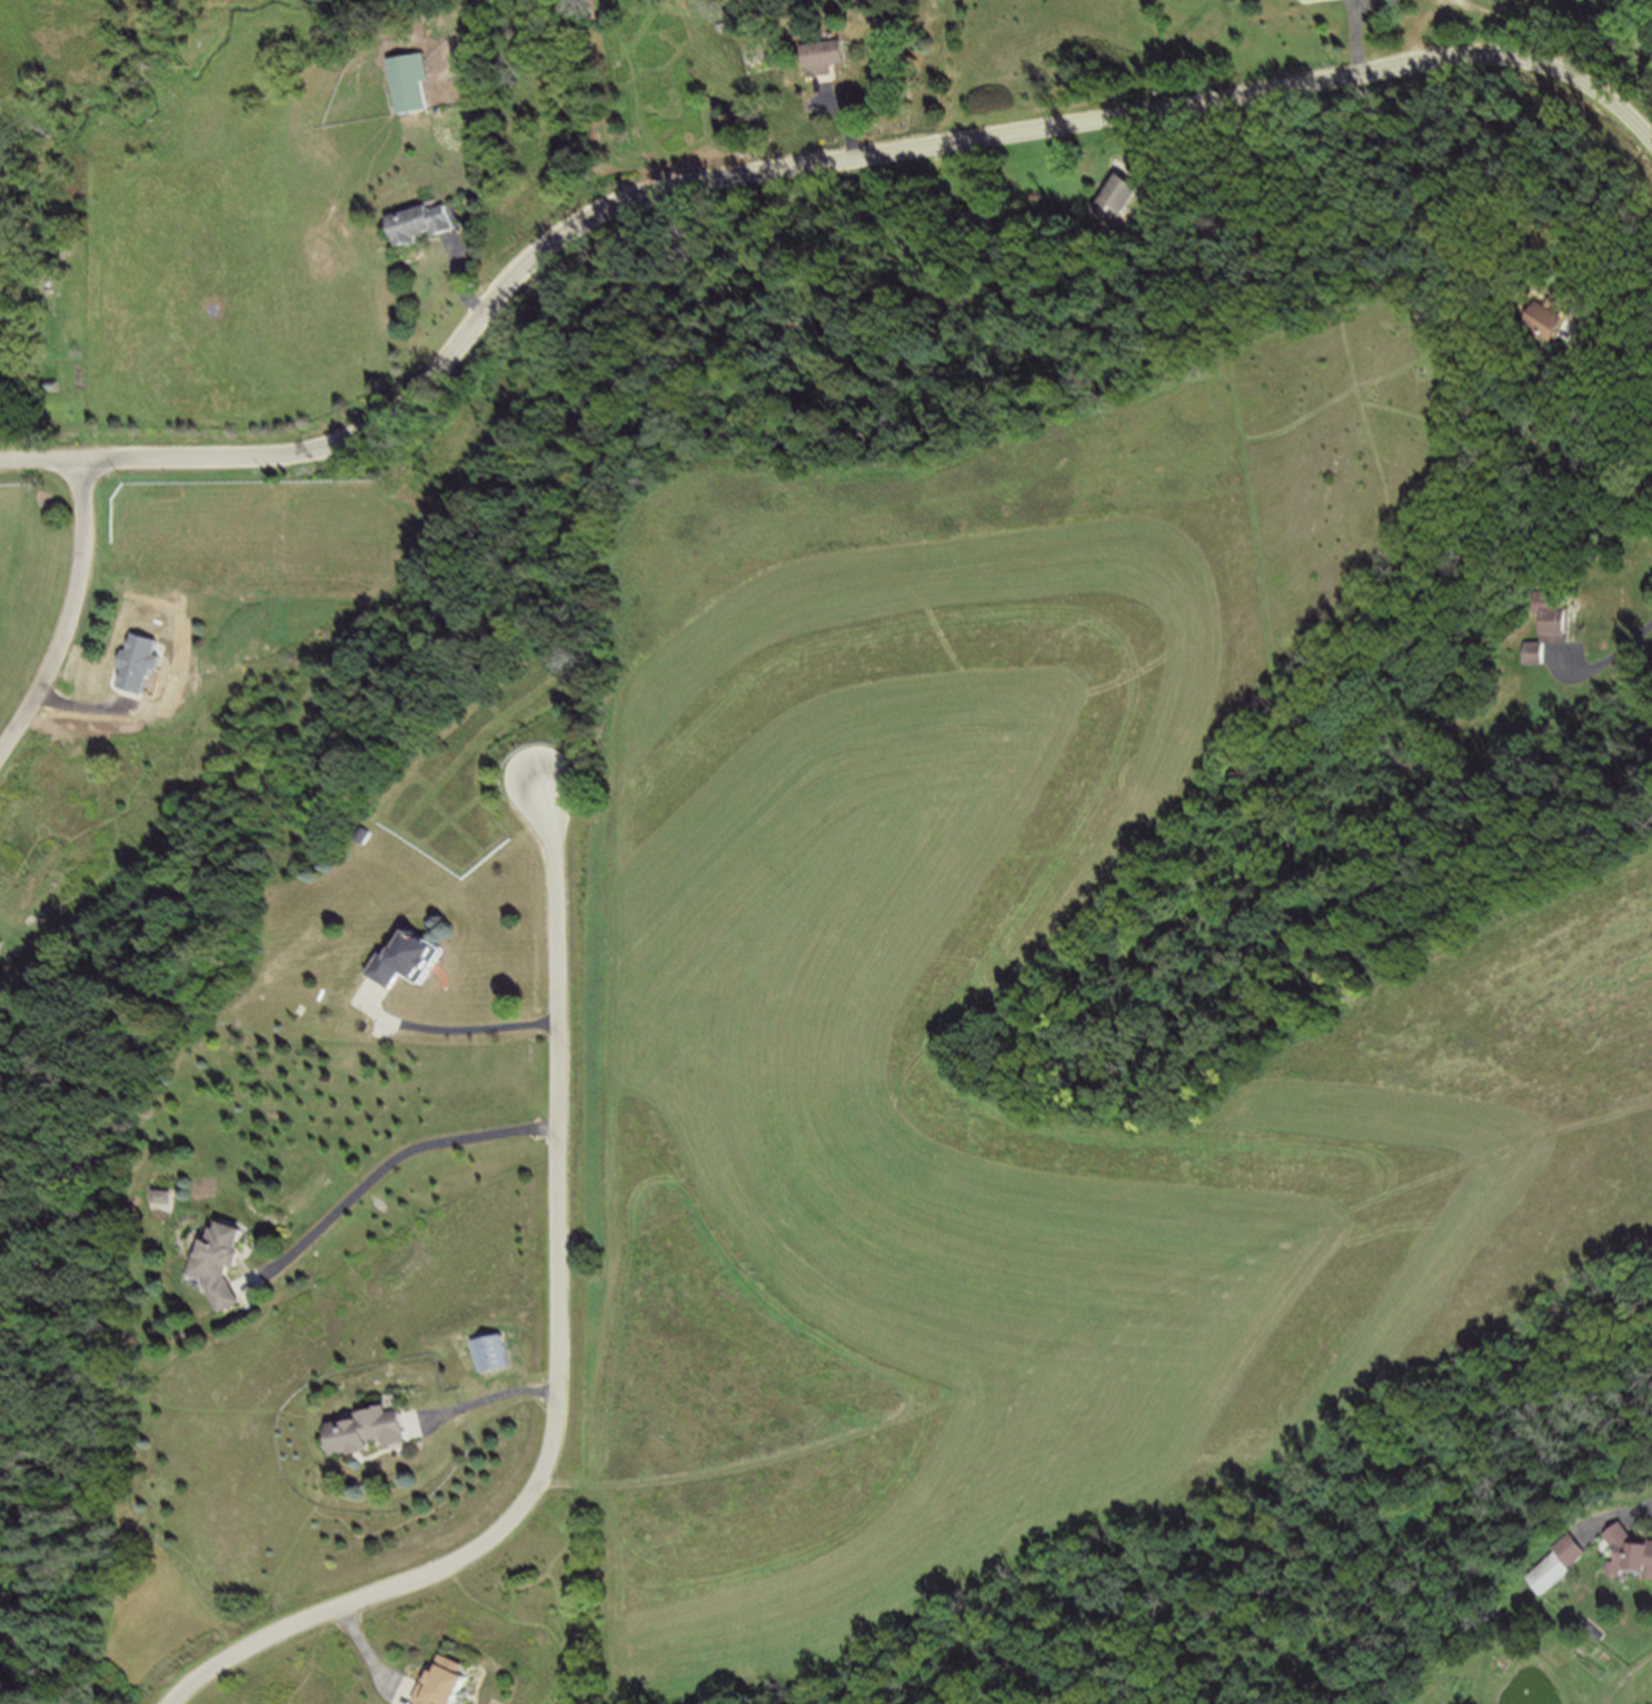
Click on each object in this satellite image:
road: (1429, 27)
road: (1363, 32)
building: (827, 60)
building: (412, 88)
road: (850, 116)
road: (1162, 134)
road: (796, 165)
building: (1111, 196)
building: (1122, 201)
building: (945, 203)
building: (973, 217)
building: (422, 229)
road: (464, 281)
building: (1549, 328)
road: (1609, 427)
road: (69, 617)
building: (1562, 621)
road: (1626, 648)
building: (1537, 658)
building: (0, 940)
building: (409, 966)
road: (458, 1032)
road: (387, 1173)
building: (165, 1199)
building: (221, 1270)
road: (561, 1355)
building: (496, 1357)
road: (489, 1397)
building: (369, 1436)
road: (1619, 1516)
building: (1629, 1554)
building: (1553, 1565)
road: (375, 1654)
building: (447, 1686)

